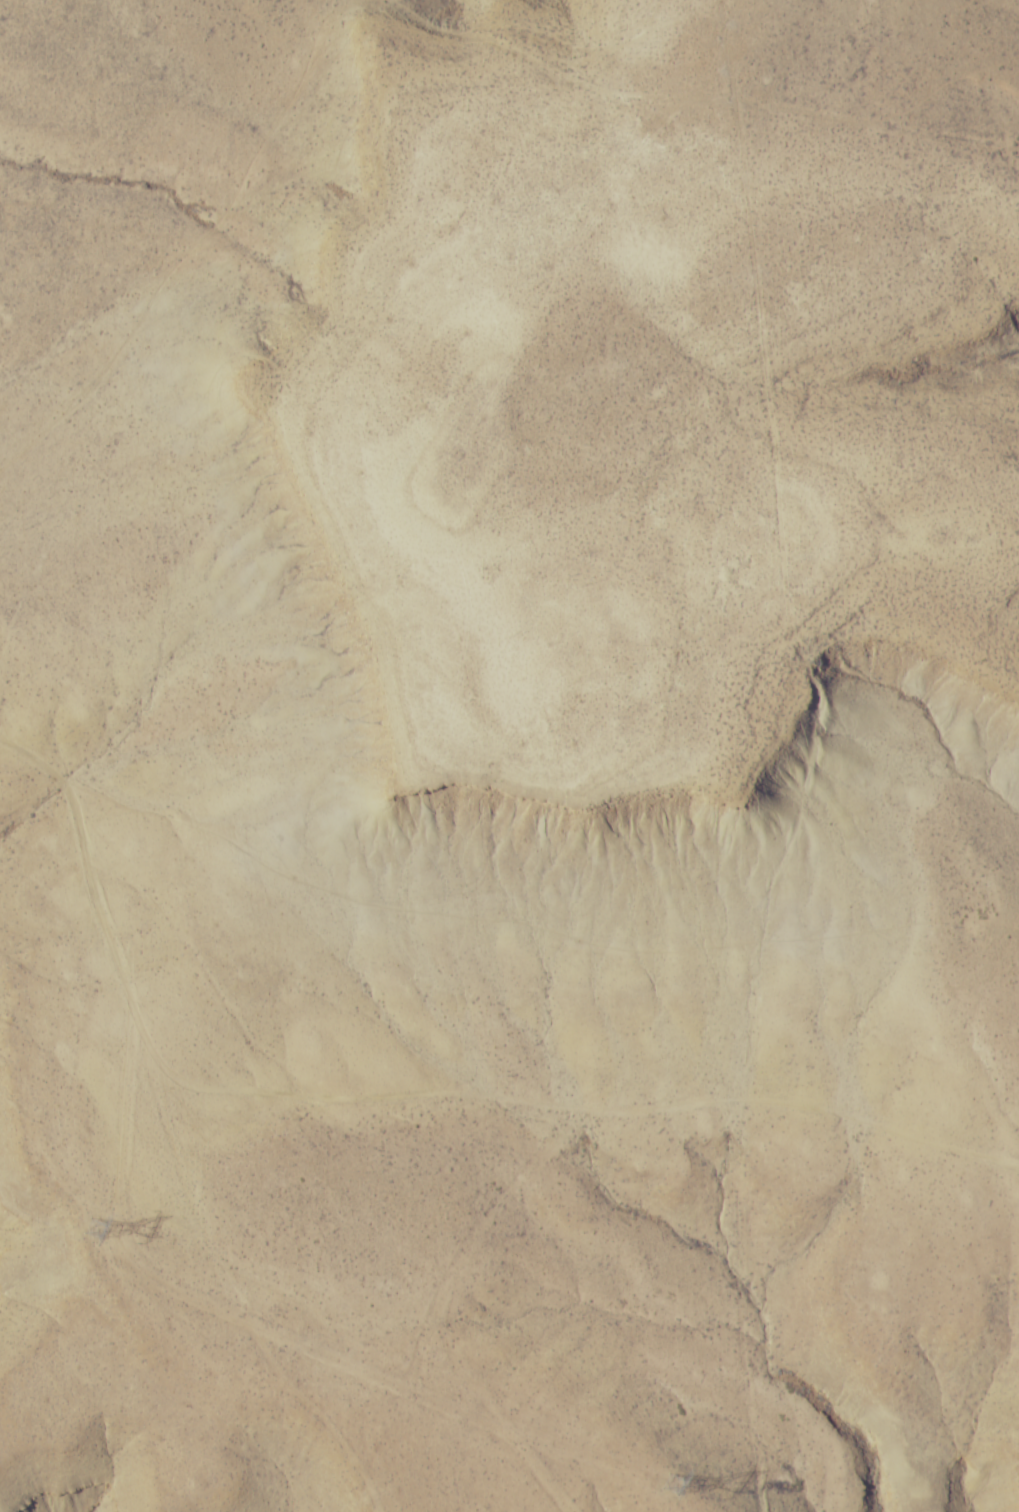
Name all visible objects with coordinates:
power tower: (99, 1218)
power tower: (671, 1470)

